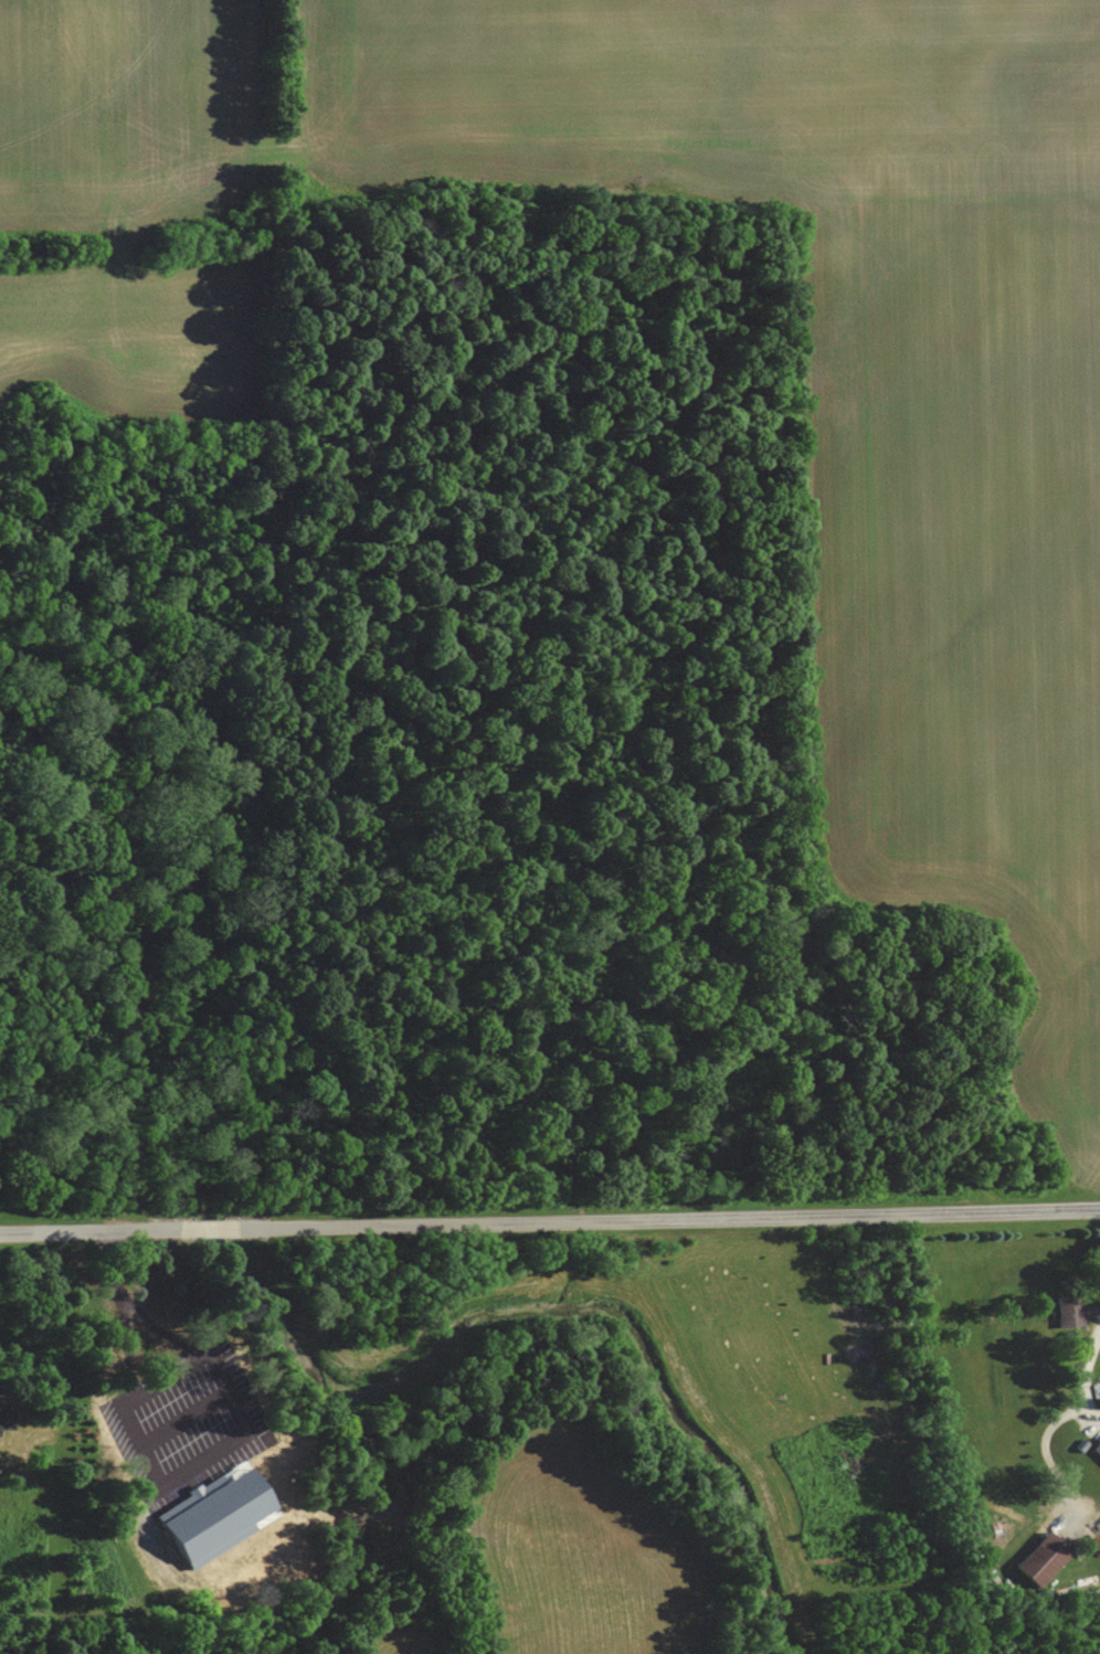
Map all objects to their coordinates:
road: (550, 1222)
building: (160, 1310)
building: (1070, 1311)
road: (1086, 1377)
building: (6, 1419)
building: (1097, 1449)
building: (1043, 1560)

